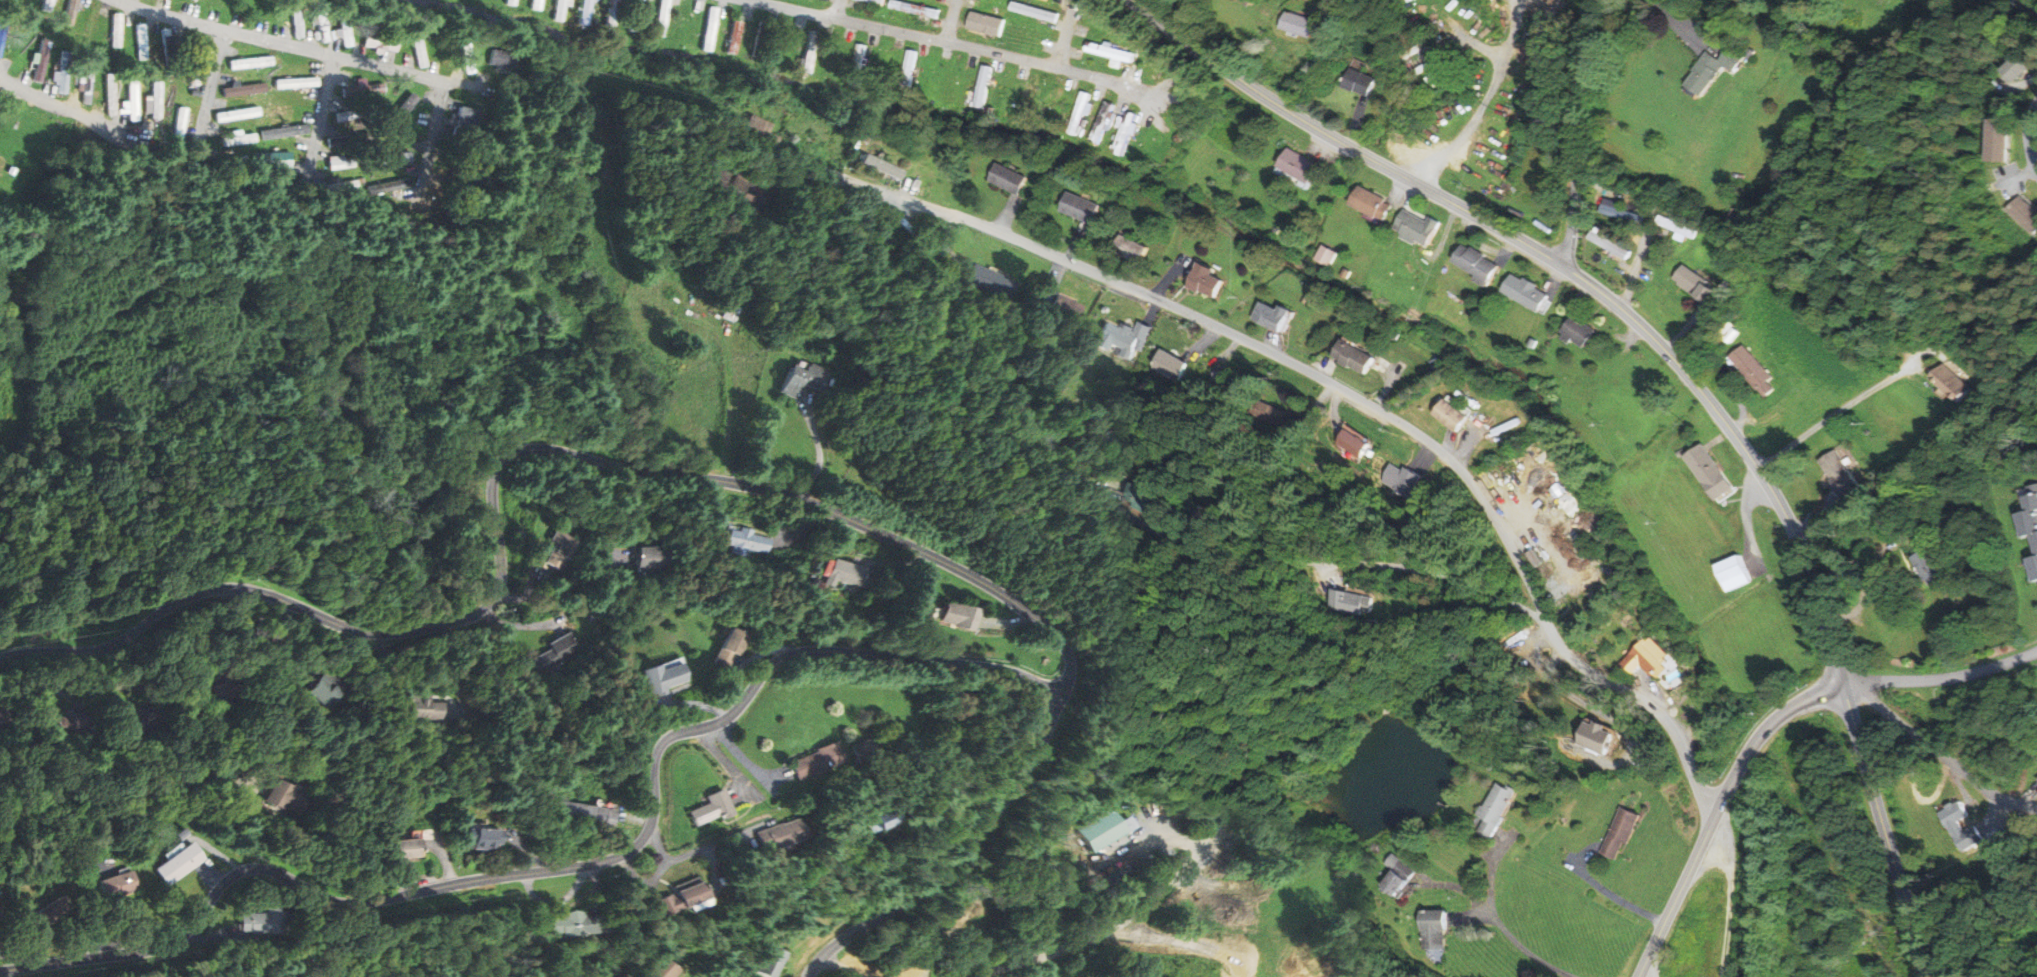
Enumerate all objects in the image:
building: (1250, 1)
building: (510, 2)
building: (876, 2)
building: (46, 4)
building: (535, 4)
road: (1731, 4)
building: (914, 8)
building: (558, 10)
road: (837, 10)
building: (583, 11)
building: (1034, 11)
building: (70, 12)
building: (610, 12)
building: (635, 15)
building: (660, 17)
building: (295, 21)
road: (951, 21)
building: (986, 23)
building: (1299, 24)
road: (1675, 25)
building: (321, 27)
building: (709, 29)
building: (114, 30)
building: (344, 33)
building: (1, 36)
road: (1065, 36)
building: (734, 37)
building: (380, 39)
building: (759, 39)
building: (140, 40)
building: (728, 40)
building: (754, 40)
road: (947, 43)
building: (1112, 45)
road: (302, 47)
building: (167, 48)
building: (417, 49)
building: (809, 51)
building: (1109, 51)
building: (1751, 52)
building: (191, 59)
building: (465, 59)
building: (502, 59)
building: (39, 61)
building: (1117, 62)
building: (250, 63)
building: (1156, 64)
building: (2024, 65)
building: (857, 66)
building: (1371, 66)
building: (801, 69)
building: (1713, 70)
building: (908, 73)
building: (60, 81)
building: (86, 81)
building: (1359, 81)
building: (295, 83)
road: (212, 86)
building: (983, 87)
road: (1157, 87)
building: (243, 89)
building: (362, 90)
road: (2017, 90)
building: (109, 94)
building: (155, 100)
building: (131, 101)
road: (1149, 108)
building: (400, 111)
building: (1079, 113)
building: (236, 114)
building: (355, 114)
road: (322, 115)
building: (461, 119)
road: (98, 121)
building: (1102, 122)
building: (178, 125)
building: (283, 132)
road: (438, 132)
building: (1124, 132)
road: (1580, 132)
road: (2031, 137)
building: (237, 139)
building: (347, 140)
building: (2001, 140)
building: (1142, 146)
road: (2035, 154)
building: (274, 159)
road: (775, 161)
building: (339, 163)
building: (1301, 164)
building: (224, 165)
building: (880, 167)
road: (2016, 178)
building: (1011, 179)
road: (2012, 180)
building: (392, 185)
road: (1597, 185)
building: (1372, 202)
building: (1083, 208)
building: (2026, 211)
building: (1623, 214)
building: (1740, 218)
building: (1677, 226)
building: (1418, 227)
building: (1611, 244)
building: (1131, 248)
building: (1327, 256)
building: (1477, 264)
road: (1567, 269)
building: (1347, 273)
building: (1209, 282)
building: (1696, 284)
building: (1527, 293)
building: (1275, 317)
building: (1580, 330)
building: (1126, 339)
building: (1357, 359)
building: (1176, 367)
building: (1754, 369)
building: (803, 381)
building: (1226, 383)
building: (1950, 383)
road: (1377, 410)
building: (1455, 416)
building: (1360, 444)
road: (820, 459)
building: (1704, 473)
building: (1840, 475)
road: (1154, 529)
building: (2028, 530)
road: (803, 531)
building: (745, 541)
building: (557, 551)
building: (652, 558)
building: (1928, 567)
building: (847, 576)
building: (1731, 576)
road: (570, 593)
building: (1360, 604)
building: (961, 617)
road: (1009, 622)
road: (518, 625)
road: (270, 629)
building: (735, 647)
building: (554, 654)
road: (1070, 656)
building: (1652, 656)
building: (668, 676)
road: (1942, 680)
road: (38, 681)
road: (110, 681)
building: (326, 690)
road: (697, 705)
building: (422, 708)
building: (5, 718)
building: (869, 750)
road: (1938, 752)
road: (750, 760)
building: (824, 760)
road: (728, 766)
building: (1502, 808)
building: (715, 809)
road: (1719, 810)
building: (588, 815)
building: (1954, 816)
road: (635, 819)
building: (886, 819)
building: (1105, 830)
road: (1885, 831)
building: (1634, 832)
building: (784, 835)
building: (491, 837)
road: (1168, 839)
road: (719, 841)
building: (420, 847)
road: (530, 854)
road: (954, 857)
road: (444, 859)
building: (189, 863)
road: (212, 874)
road: (657, 875)
building: (1405, 875)
building: (127, 885)
road: (559, 901)
building: (681, 901)
building: (58, 911)
road: (99, 919)
building: (270, 921)
building: (580, 924)
road: (1503, 930)
building: (1441, 932)
road: (1102, 935)
road: (215, 937)
road: (30, 946)
road: (17, 957)
building: (774, 961)
building: (670, 968)
road: (845, 968)
road: (1644, 973)

